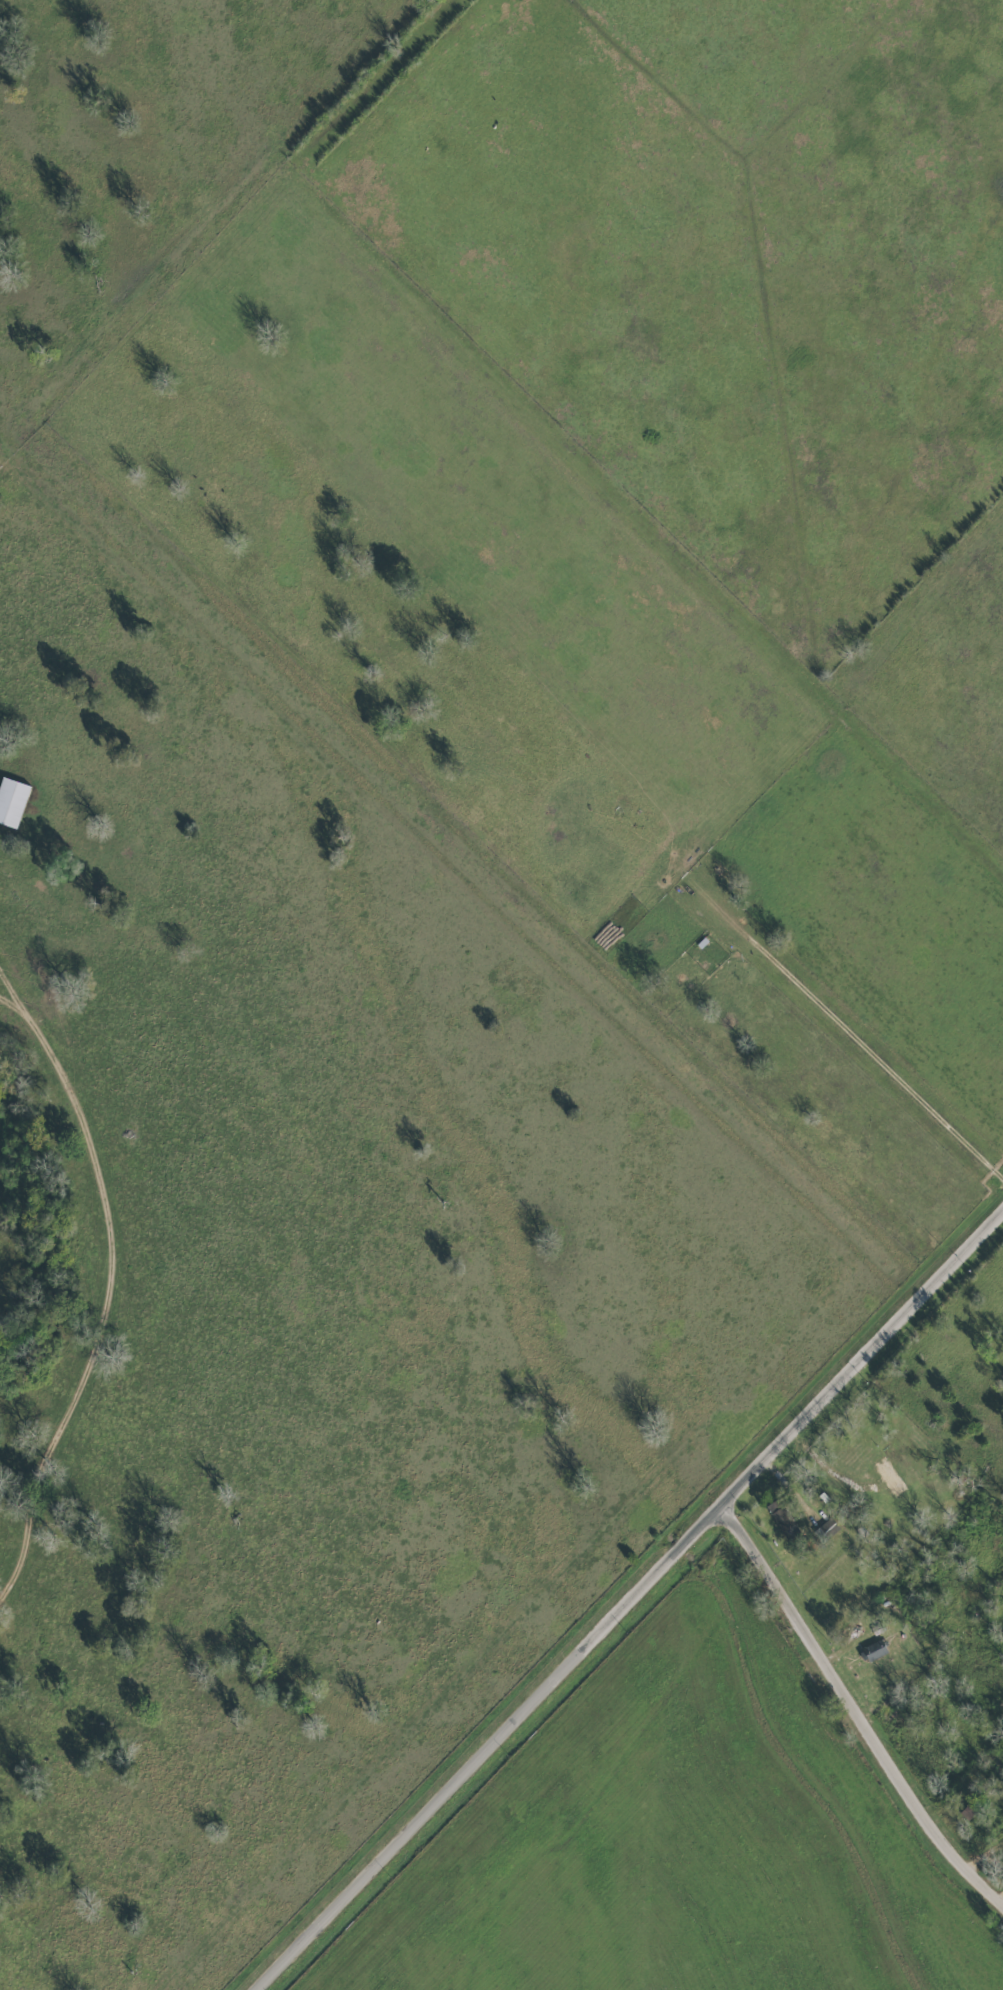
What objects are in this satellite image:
building: (11, 801)
road: (107, 1286)
building: (889, 1477)
building: (783, 1521)
road: (626, 1599)
building: (872, 1652)
road: (853, 1709)

